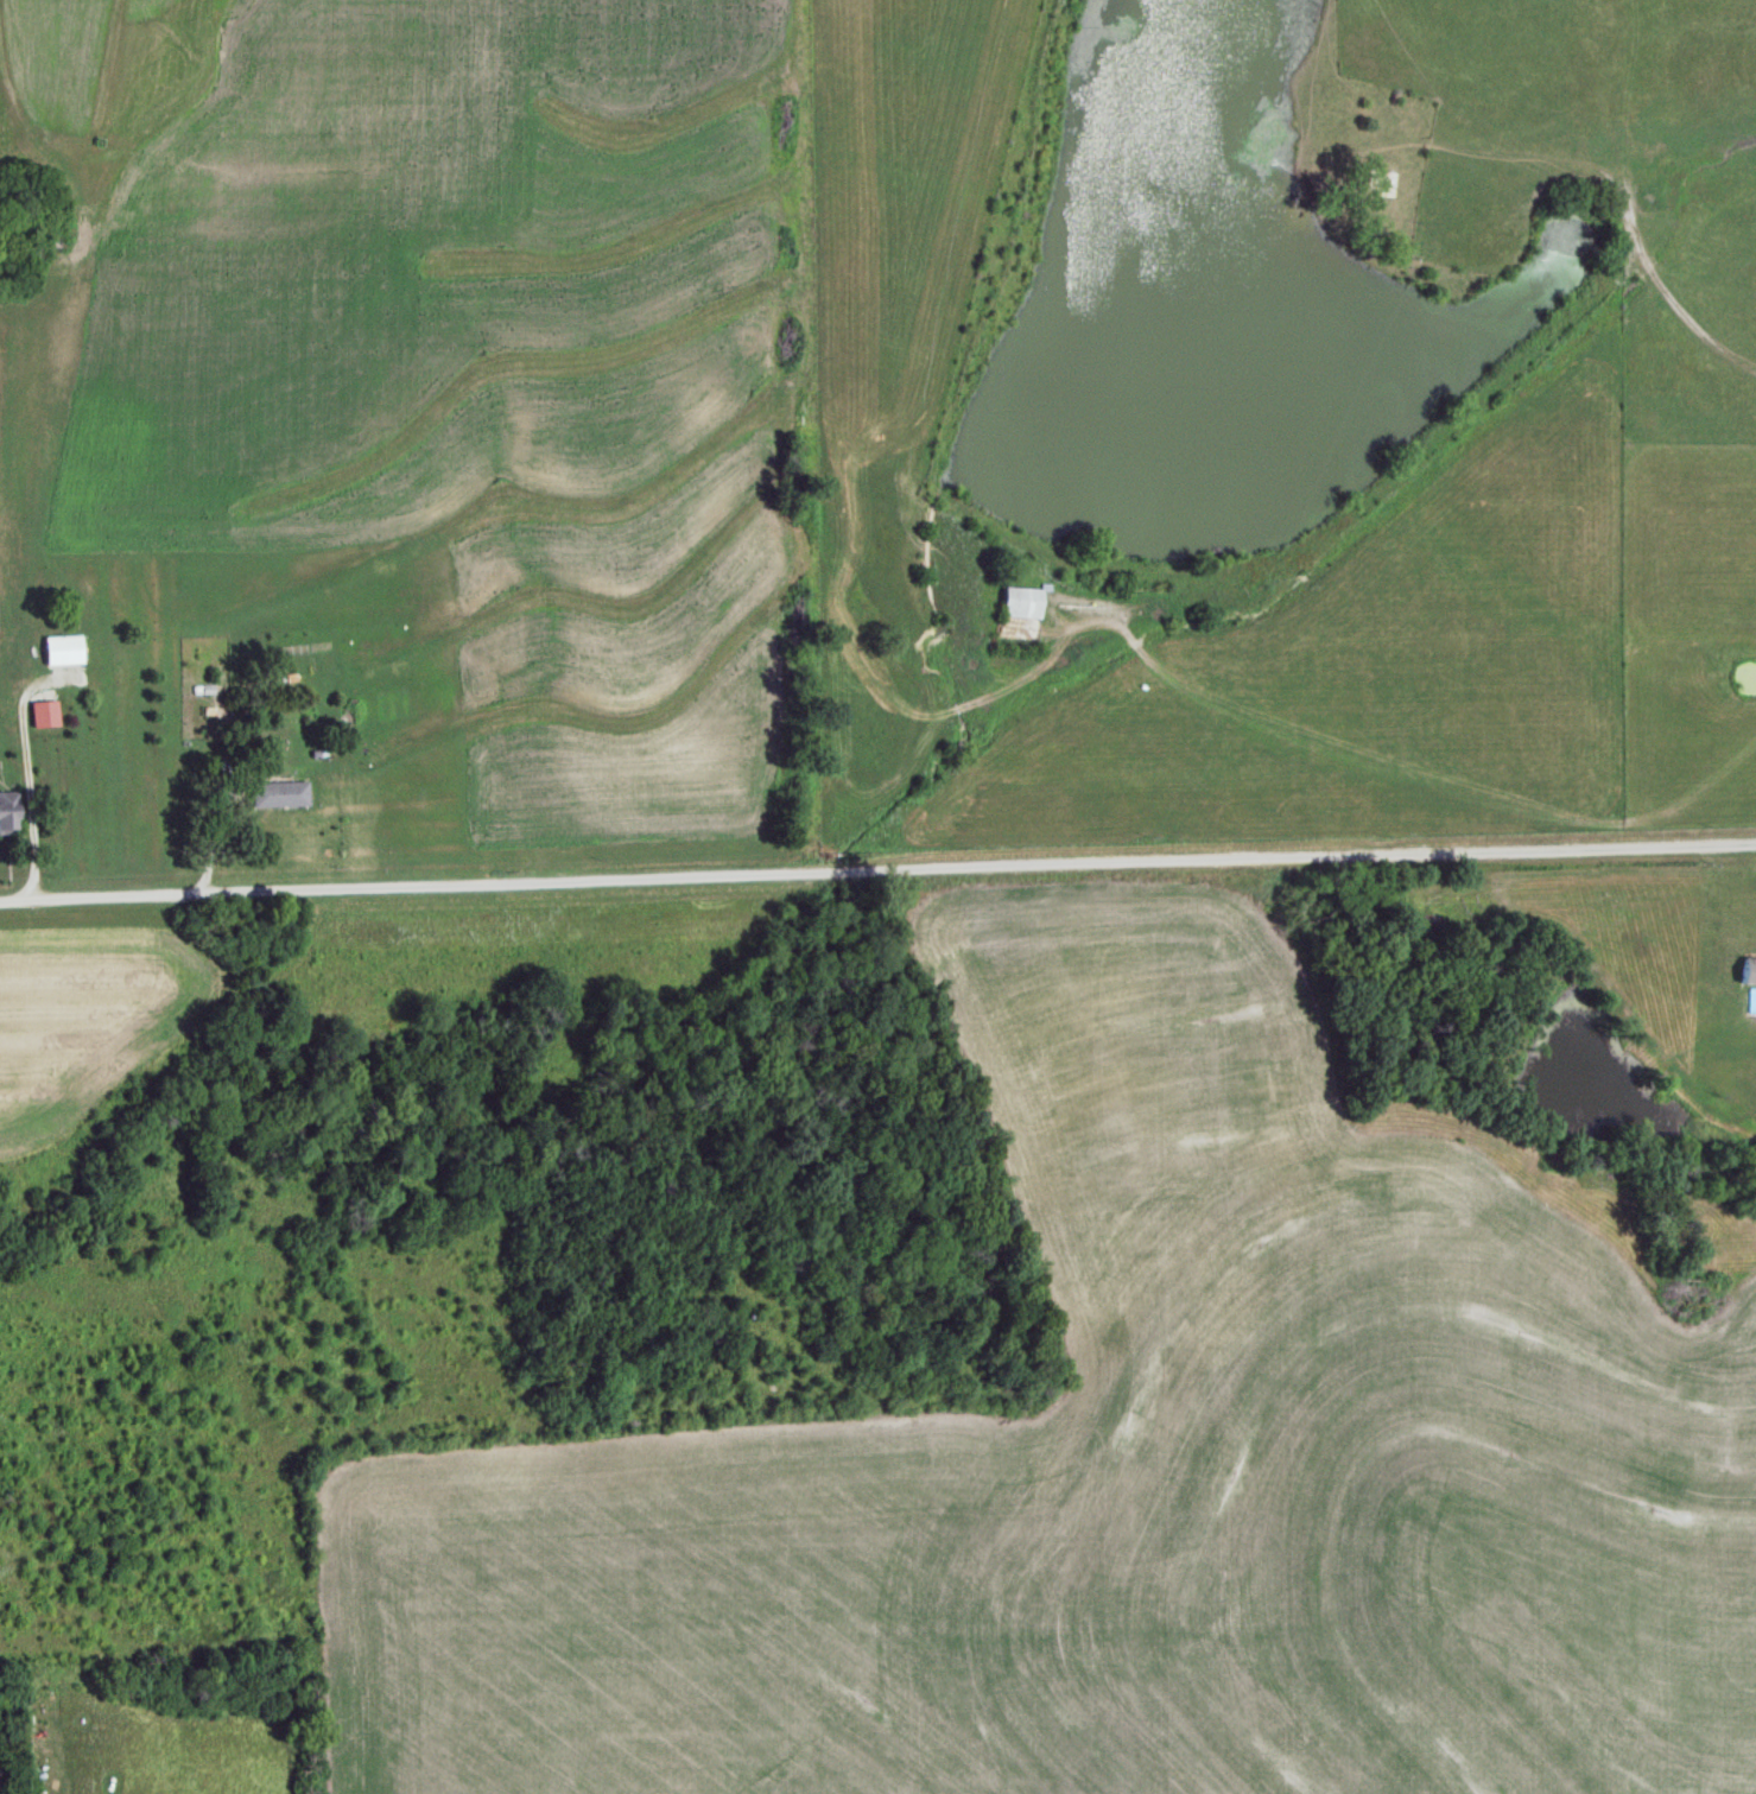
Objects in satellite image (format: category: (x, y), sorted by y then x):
building: (1384, 180)
road: (1636, 224)
building: (1028, 601)
building: (62, 648)
building: (43, 712)
building: (279, 792)
building: (7, 810)
road: (877, 866)
building: (1747, 970)

